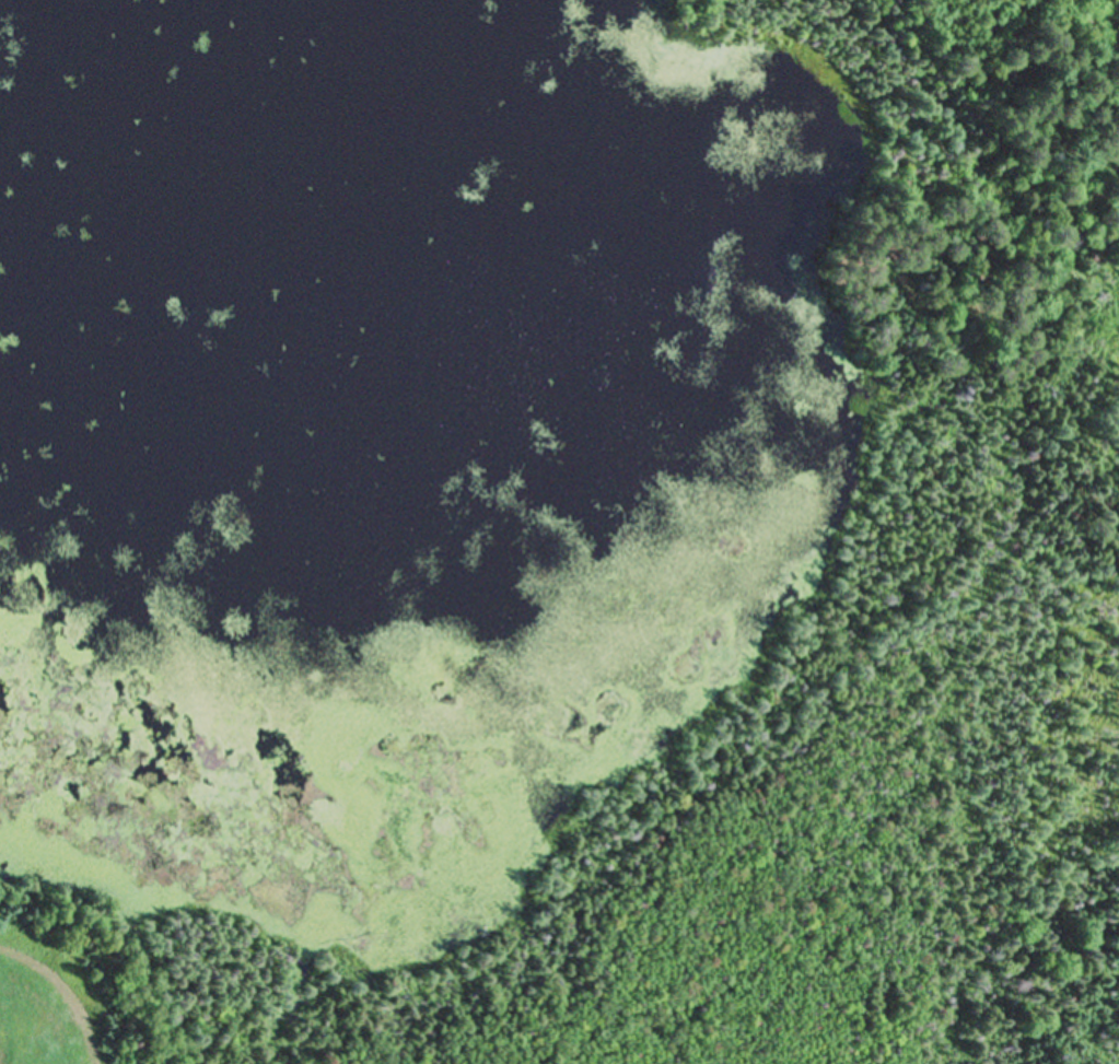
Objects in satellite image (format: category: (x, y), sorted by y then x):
crop: (50, 1005)

